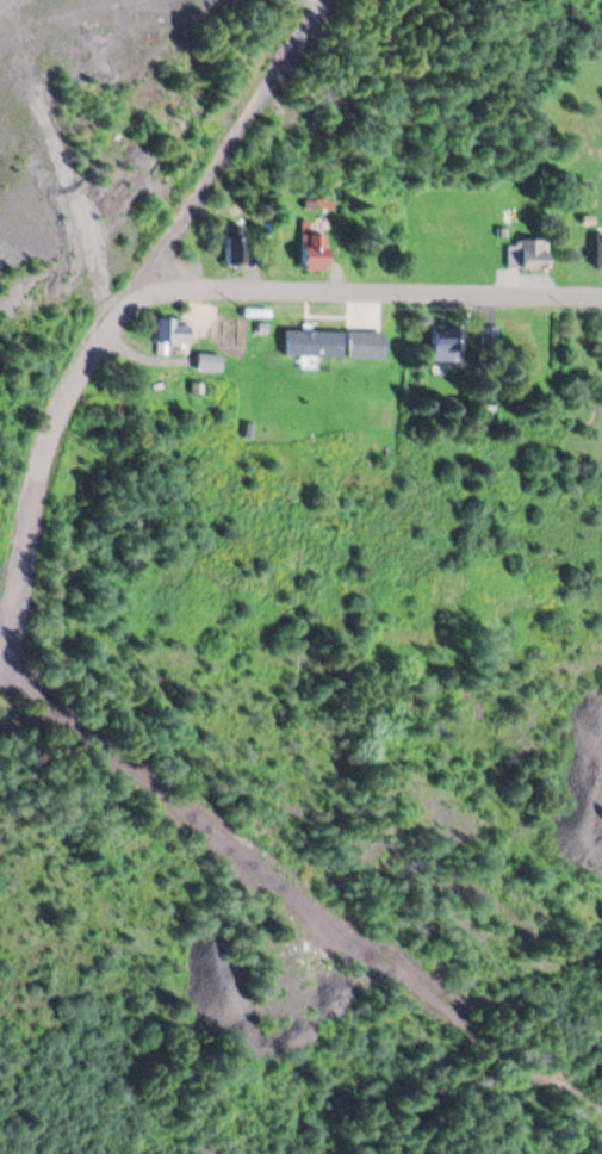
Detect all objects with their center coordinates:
building: (232, 242)
building: (312, 249)
building: (526, 252)
building: (600, 254)
road: (372, 286)
road: (124, 306)
building: (174, 329)
building: (446, 340)
building: (311, 341)
building: (364, 342)
building: (207, 360)

